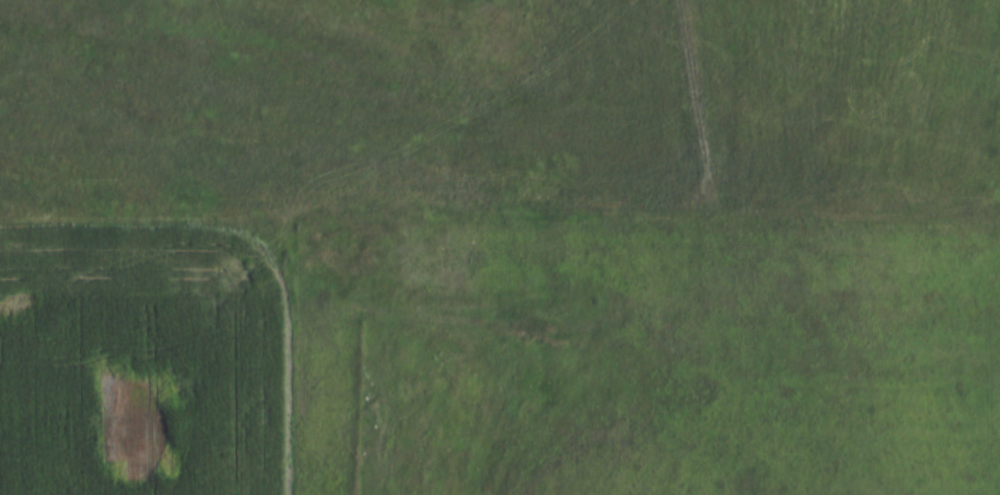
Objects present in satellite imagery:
road: (696, 89)

